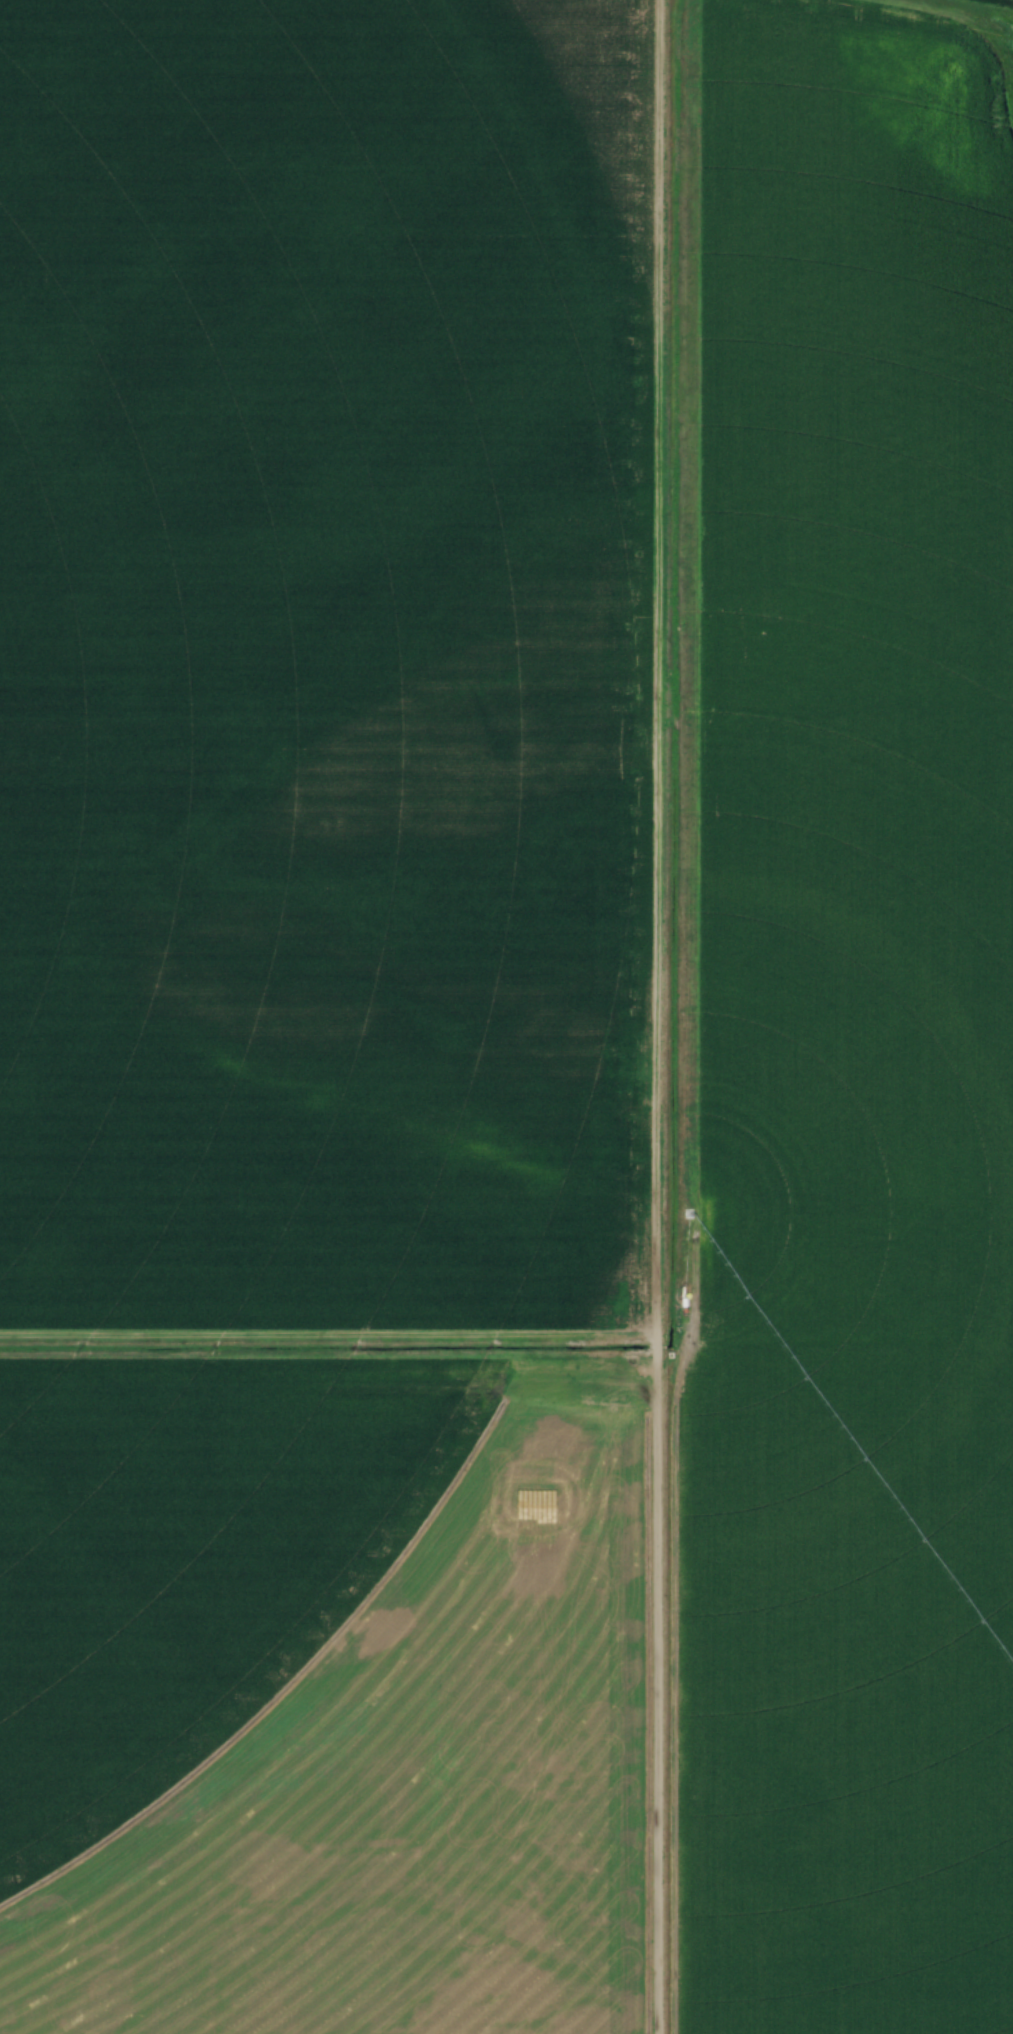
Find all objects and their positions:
airport runway: (328, 1340)
airport taxiway: (654, 1687)

